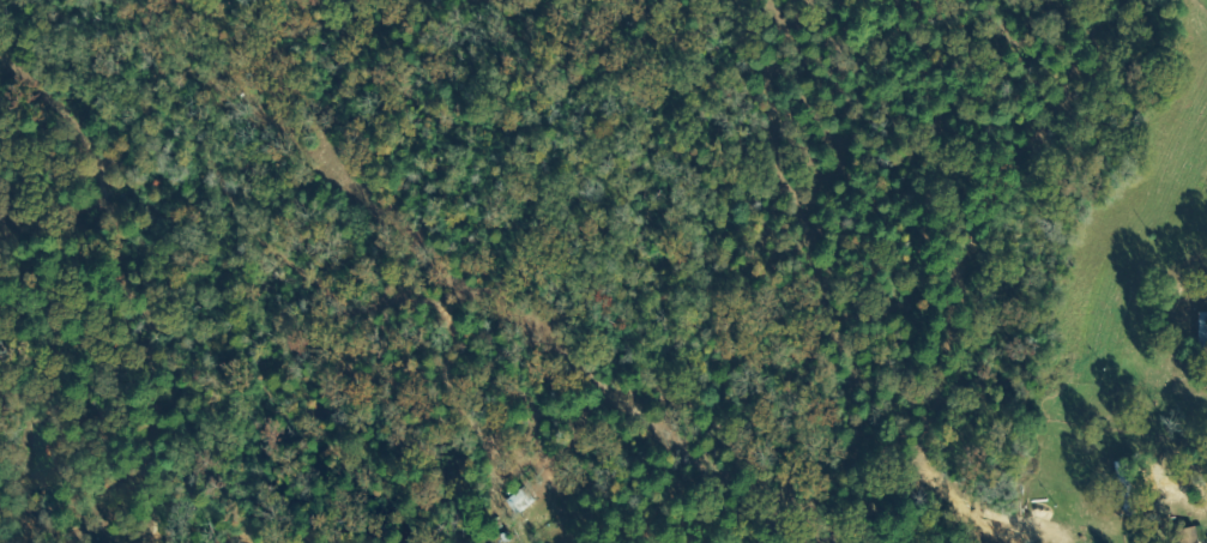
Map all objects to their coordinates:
building: (1190, 536)

